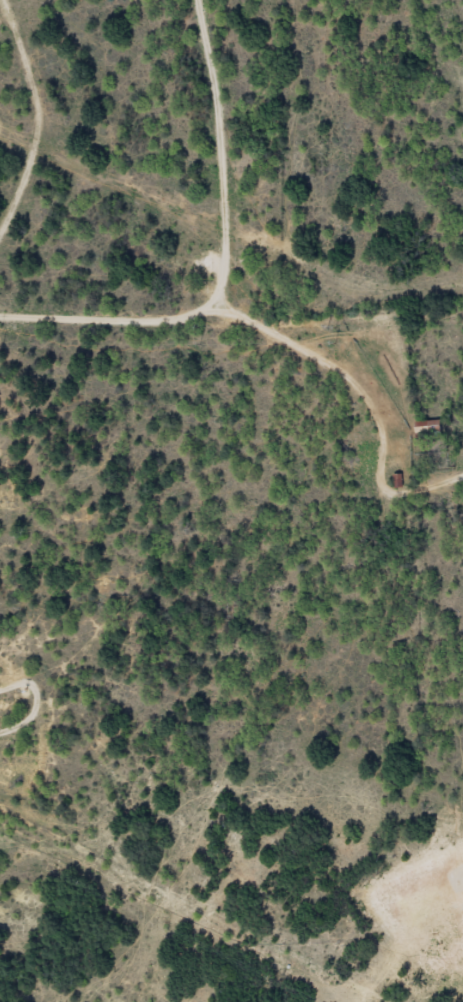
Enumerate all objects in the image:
building: (428, 428)

